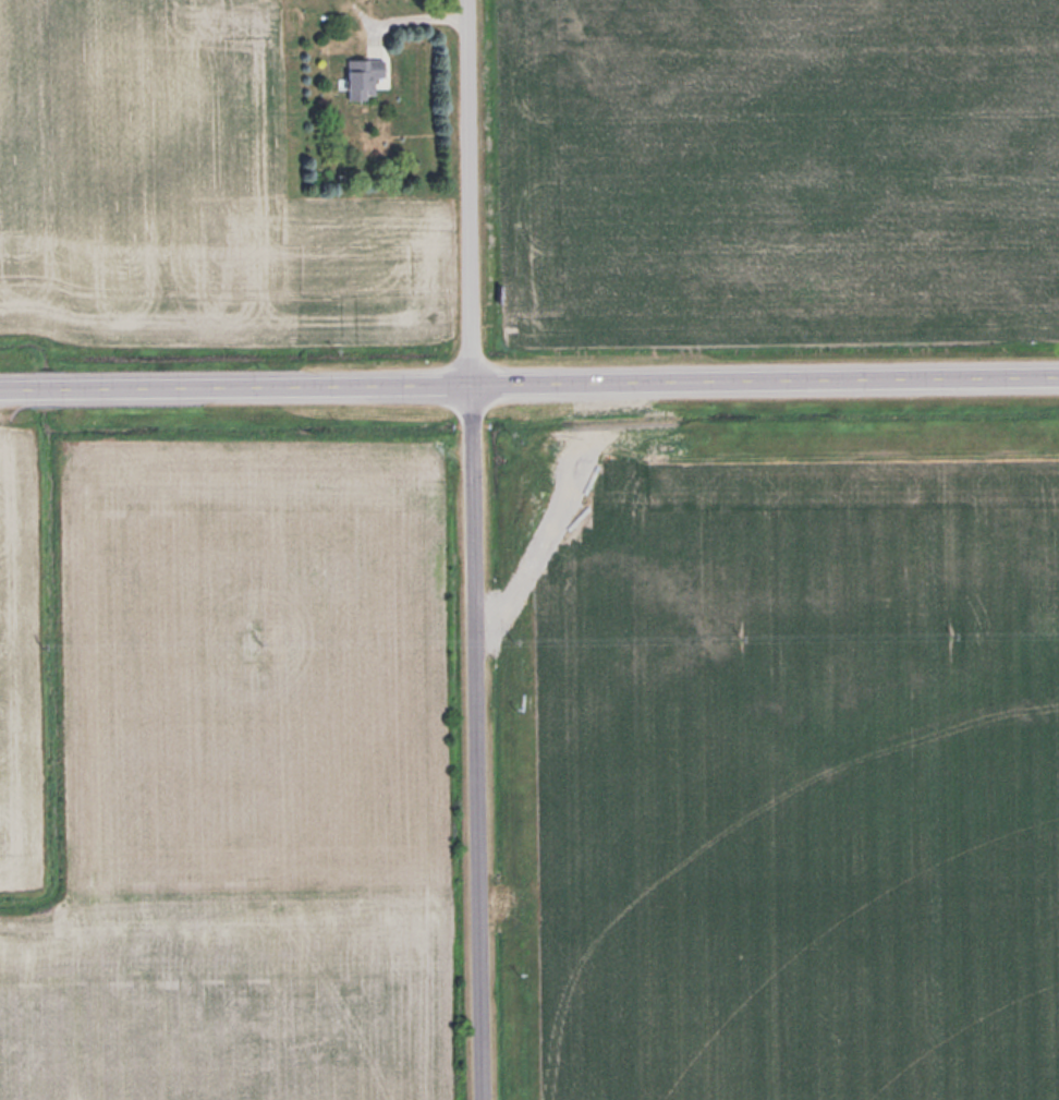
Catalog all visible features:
road: (402, 17)
building: (366, 74)
road: (767, 385)
road: (238, 391)
road: (477, 549)

